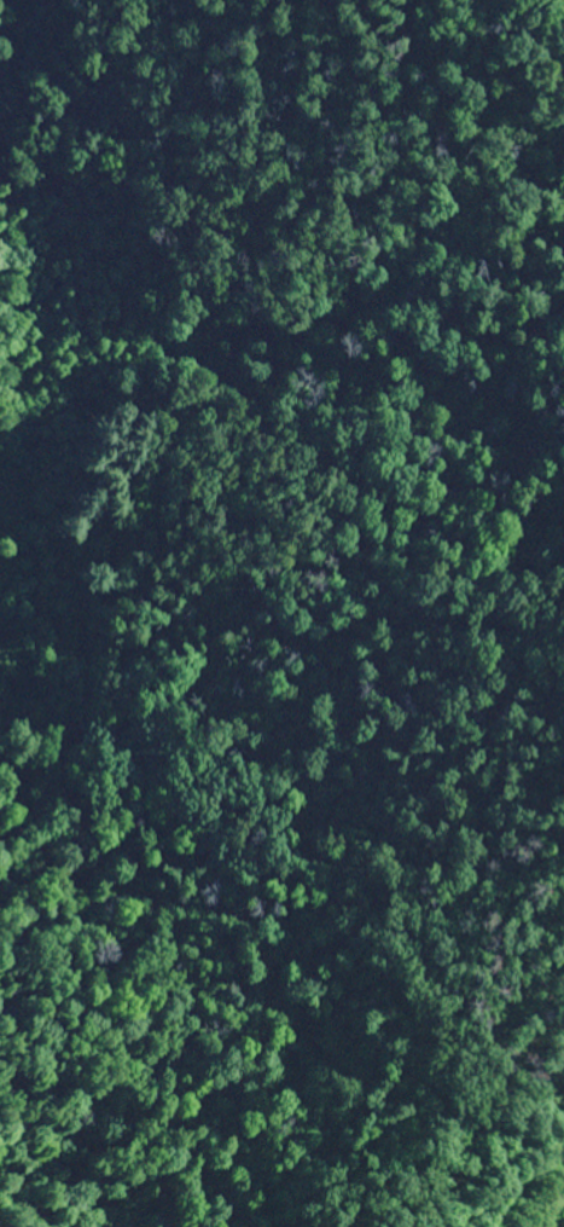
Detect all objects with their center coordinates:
road: (220, 87)

